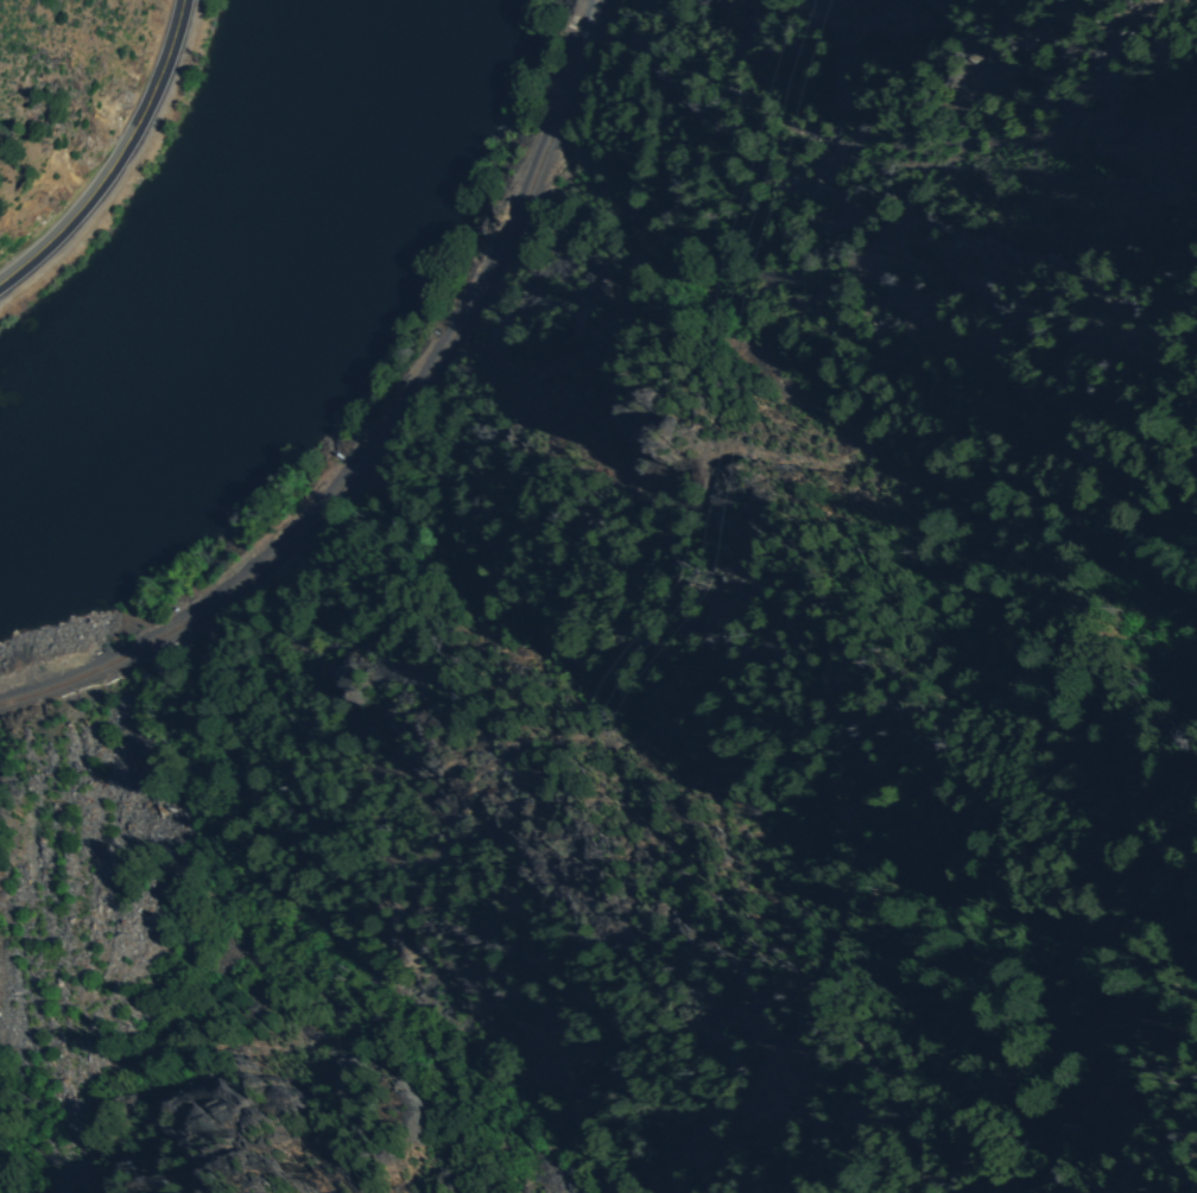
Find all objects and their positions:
river: (321, 127)
road: (116, 158)
river: (209, 322)
river: (71, 425)
railway: (386, 431)
power tower: (716, 580)
power tower: (571, 846)

